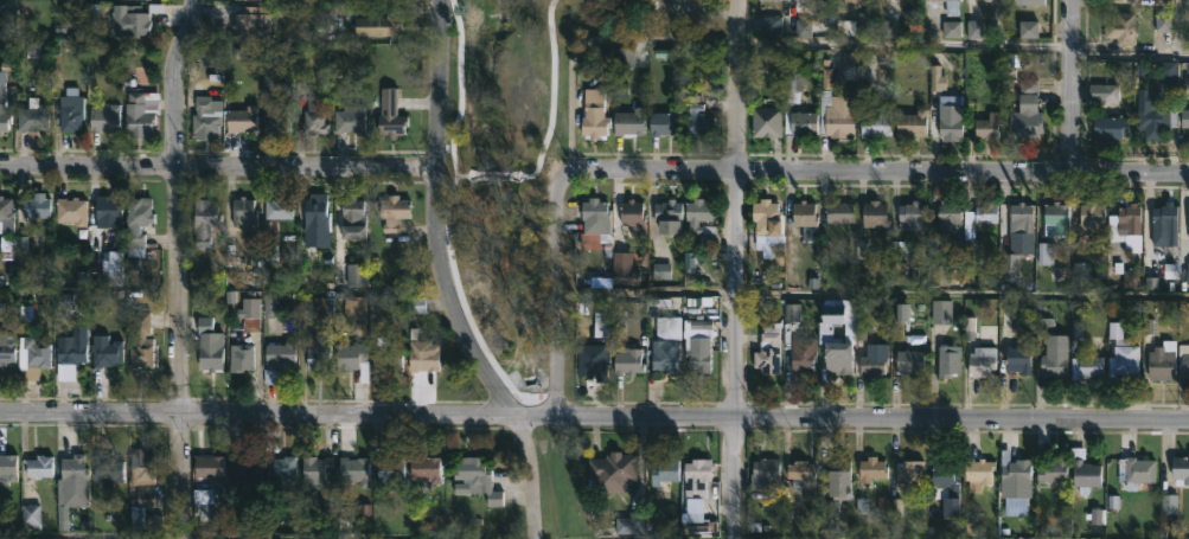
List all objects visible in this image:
building: (147, 0)
building: (389, 0)
building: (775, 0)
building: (947, 0)
building: (990, 0)
building: (1029, 1)
building: (859, 4)
parking lot: (676, 7)
building: (133, 19)
building: (7, 20)
building: (251, 20)
building: (376, 25)
building: (1121, 26)
road: (1183, 28)
road: (822, 39)
road: (436, 84)
building: (794, 84)
road: (1073, 86)
building: (1107, 91)
building: (836, 108)
building: (4, 109)
building: (70, 109)
building: (140, 111)
building: (595, 113)
building: (390, 114)
building: (698, 114)
building: (951, 114)
building: (33, 115)
building: (206, 115)
building: (104, 116)
building: (281, 116)
building: (313, 117)
building: (349, 117)
building: (1185, 117)
building: (241, 118)
building: (665, 121)
building: (766, 121)
building: (1156, 121)
building: (628, 122)
building: (801, 122)
building: (876, 122)
building: (914, 122)
building: (1027, 122)
building: (989, 126)
building: (1111, 126)
park: (524, 155)
road: (217, 168)
road: (459, 171)
road: (878, 171)
road: (494, 175)
road: (529, 180)
road: (539, 197)
building: (36, 206)
building: (279, 207)
road: (449, 207)
building: (5, 210)
building: (70, 210)
building: (108, 210)
building: (840, 211)
building: (243, 212)
building: (395, 212)
building: (875, 213)
building: (913, 214)
building: (987, 214)
building: (669, 216)
building: (1022, 216)
building: (1166, 216)
building: (633, 217)
building: (352, 218)
building: (701, 218)
building: (805, 218)
building: (1057, 218)
building: (1093, 219)
building: (204, 220)
building: (317, 220)
building: (594, 222)
building: (766, 222)
building: (136, 224)
building: (946, 225)
building: (1124, 229)
building: (1048, 255)
building: (113, 268)
road: (178, 268)
road: (734, 269)
building: (356, 275)
building: (941, 276)
building: (1187, 276)
road: (561, 290)
road: (961, 293)
building: (317, 304)
building: (418, 307)
building: (249, 312)
building: (944, 313)
building: (216, 339)
building: (141, 340)
building: (699, 344)
building: (6, 346)
building: (768, 348)
building: (104, 351)
building: (279, 351)
building: (320, 352)
building: (71, 353)
building: (1123, 353)
building: (241, 354)
road: (482, 354)
building: (803, 354)
building: (837, 354)
building: (1055, 354)
building: (423, 355)
building: (31, 357)
building: (388, 357)
building: (663, 357)
building: (352, 358)
building: (909, 359)
building: (1018, 359)
building: (1184, 359)
building: (594, 360)
building: (627, 360)
building: (950, 360)
building: (982, 360)
building: (1163, 360)
building: (872, 364)
building: (1086, 364)
road: (530, 400)
road: (594, 413)
building: (38, 466)
building: (424, 467)
building: (7, 468)
building: (141, 468)
building: (244, 468)
building: (285, 468)
building: (872, 468)
building: (1015, 468)
building: (107, 469)
building: (315, 469)
building: (354, 469)
building: (664, 469)
building: (912, 469)
building: (207, 470)
building: (389, 470)
building: (1181, 470)
building: (613, 471)
building: (765, 471)
building: (1053, 471)
building: (1085, 471)
building: (1138, 471)
building: (801, 473)
building: (978, 473)
building: (697, 476)
building: (839, 477)
building: (475, 479)
building: (947, 483)
building: (72, 487)
building: (30, 515)
building: (629, 522)
road: (237, 537)
road: (619, 537)

